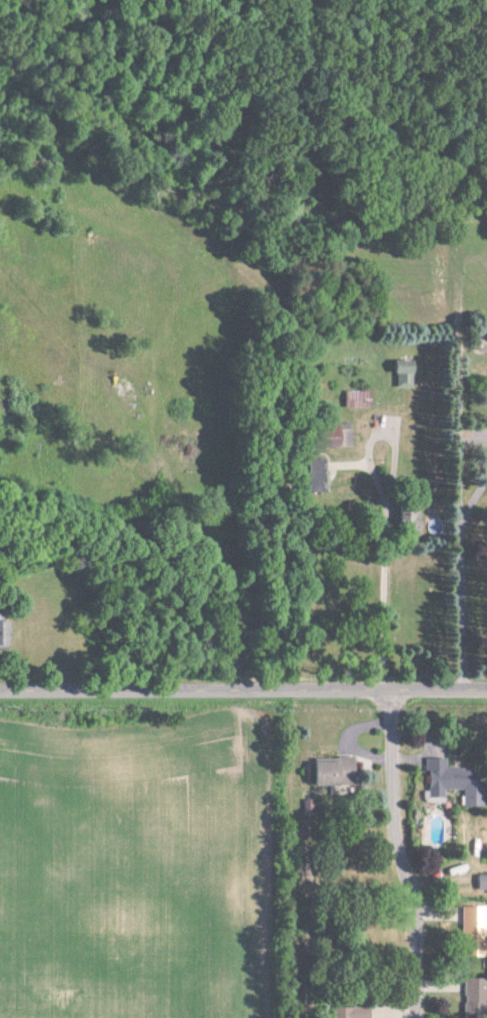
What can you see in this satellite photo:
building: (398, 373)
building: (327, 436)
road: (465, 467)
building: (312, 476)
road: (476, 498)
road: (394, 520)
building: (404, 522)
road: (465, 604)
building: (2, 634)
road: (243, 693)
building: (327, 772)
building: (451, 783)
building: (338, 793)
road: (399, 856)
building: (480, 882)
building: (469, 931)
building: (471, 998)
building: (345, 1013)

